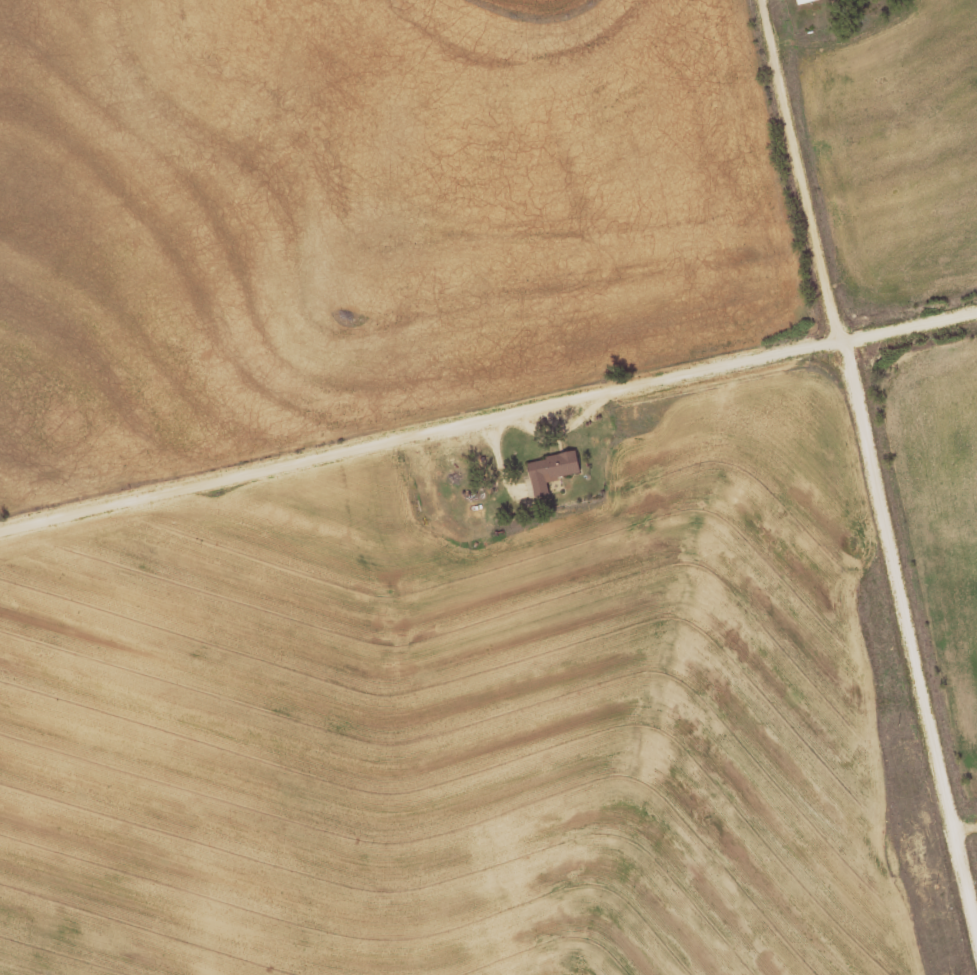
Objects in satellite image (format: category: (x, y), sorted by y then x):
building: (803, 1)
road: (488, 419)
road: (869, 465)
building: (550, 470)

